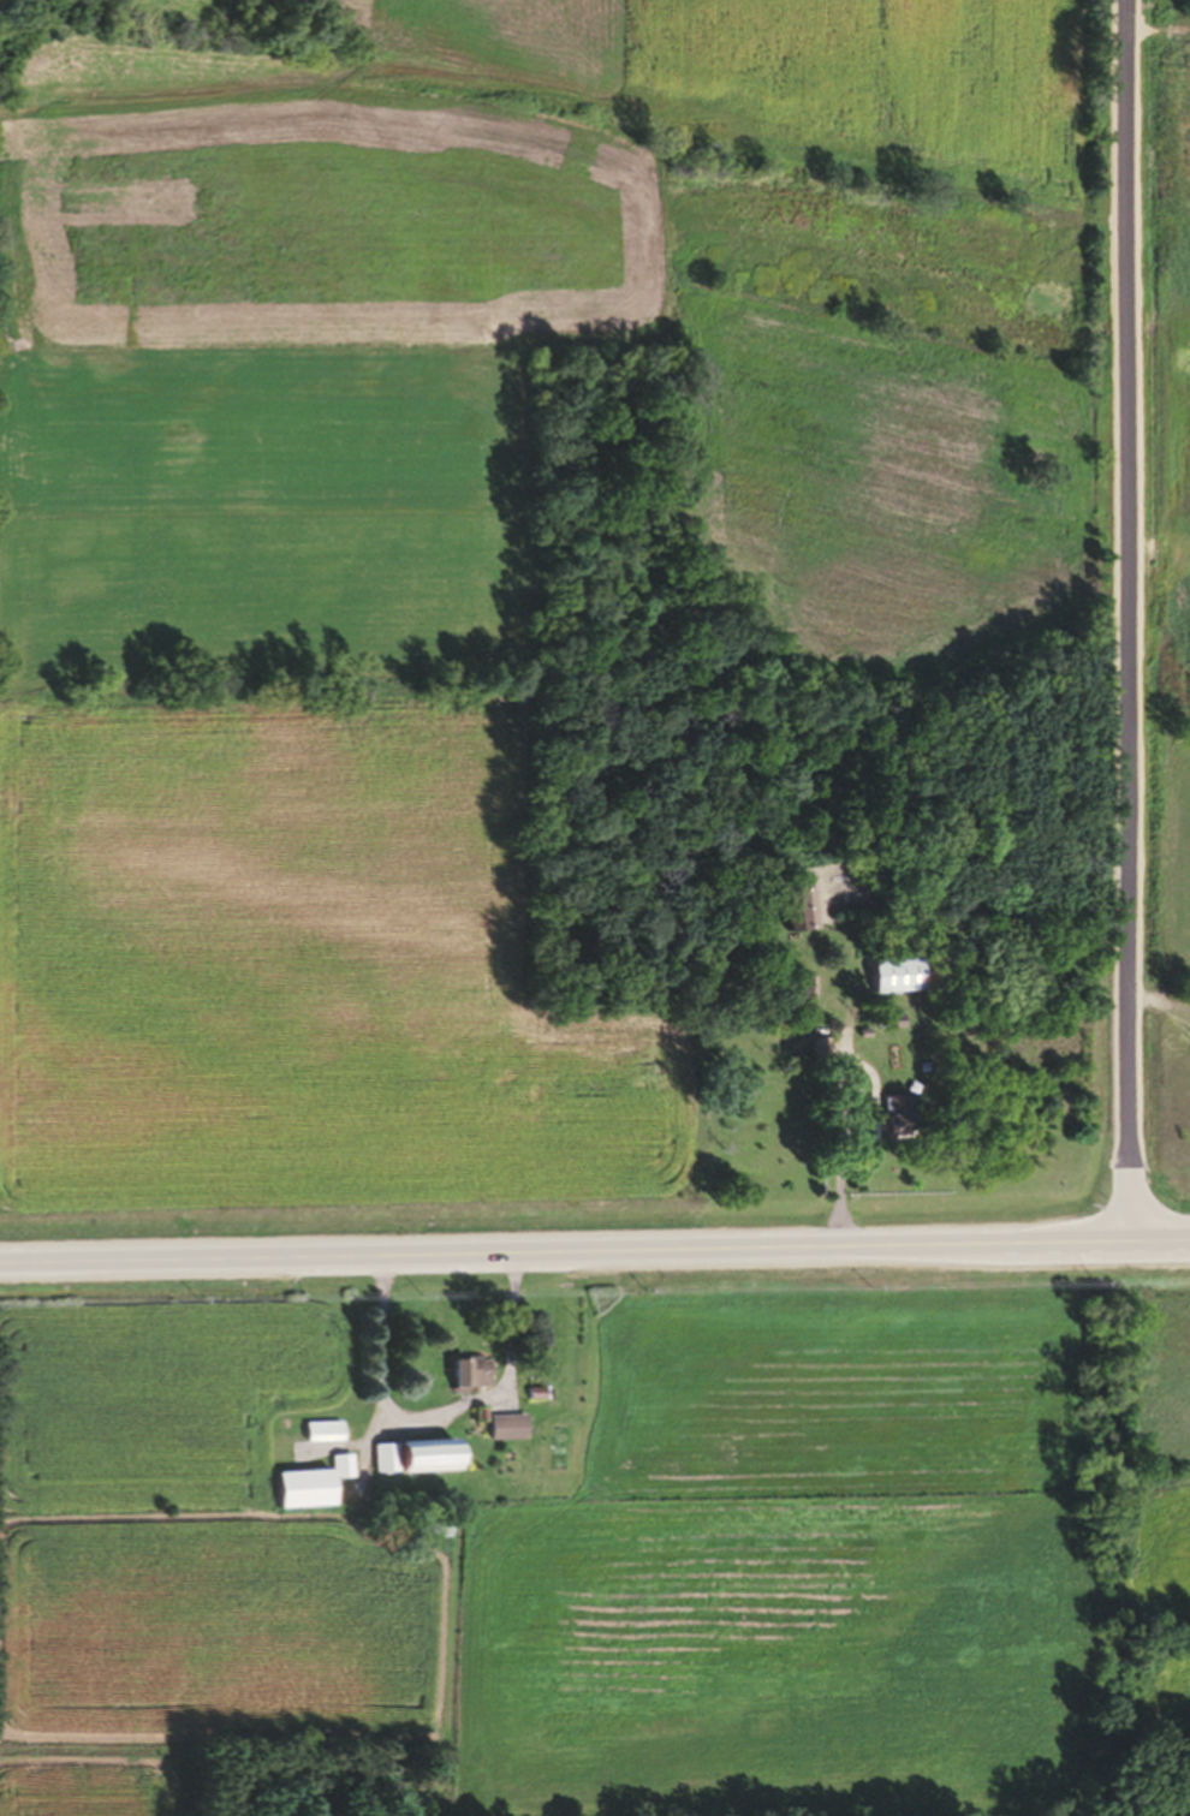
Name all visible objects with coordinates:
crop: (462, 534)
road: (1129, 625)
building: (893, 984)
building: (815, 1059)
road: (595, 1262)
building: (466, 1383)
building: (507, 1436)
building: (429, 1464)
building: (380, 1467)
building: (307, 1495)

